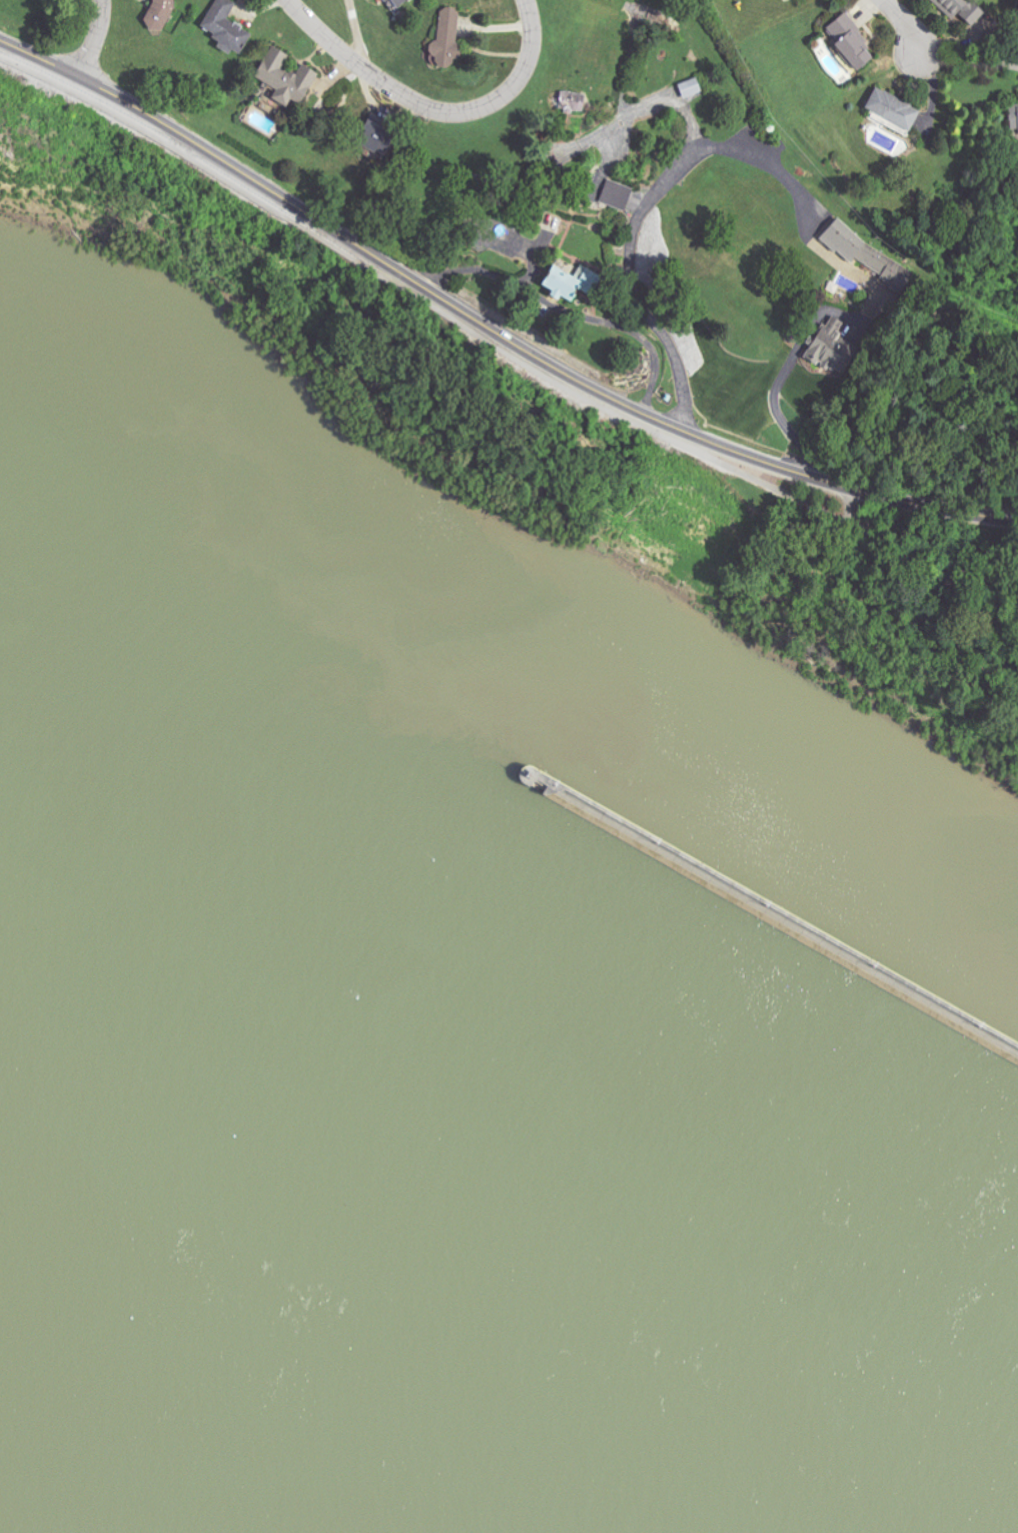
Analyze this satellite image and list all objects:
building: (382, 0)
building: (394, 2)
building: (968, 16)
road: (903, 25)
building: (225, 27)
road: (96, 38)
building: (443, 39)
building: (850, 42)
road: (971, 62)
building: (283, 77)
building: (689, 88)
building: (573, 102)
building: (892, 109)
road: (430, 111)
building: (1012, 119)
building: (372, 136)
road: (780, 175)
building: (615, 194)
building: (864, 253)
building: (567, 282)
road: (420, 304)
road: (567, 313)
road: (487, 328)
building: (827, 347)
road: (841, 506)
road: (935, 562)
river: (421, 627)
river: (923, 887)
river: (923, 921)
river: (431, 1328)

